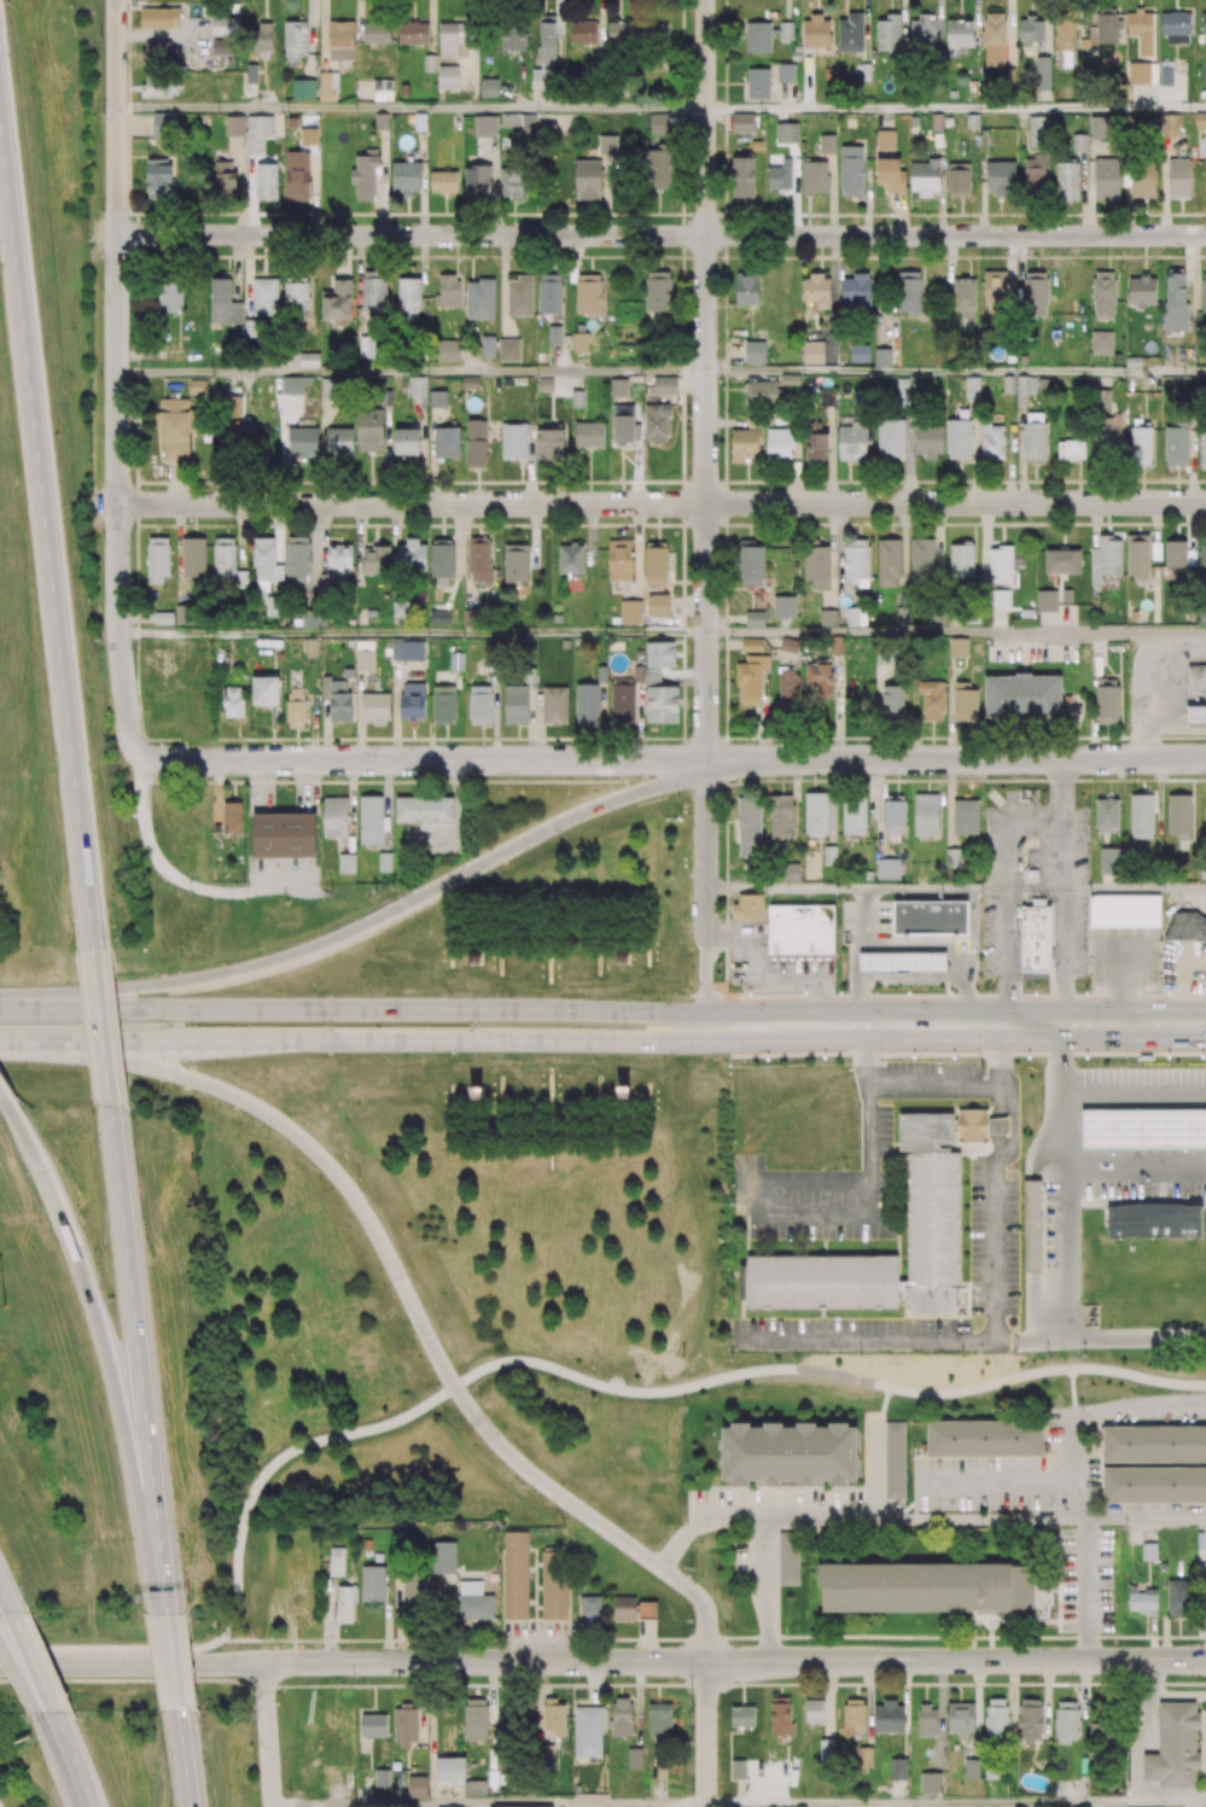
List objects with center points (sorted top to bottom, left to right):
building: (159, 17)
building: (851, 33)
building: (866, 71)
building: (251, 72)
building: (785, 72)
building: (828, 72)
building: (757, 82)
building: (304, 89)
road: (956, 109)
road: (412, 110)
road: (118, 116)
building: (948, 120)
building: (972, 120)
building: (1200, 120)
building: (936, 121)
building: (292, 122)
building: (742, 122)
building: (234, 126)
building: (786, 132)
building: (885, 138)
building: (827, 144)
building: (297, 175)
building: (1179, 176)
building: (266, 180)
road: (662, 234)
building: (519, 296)
building: (479, 298)
building: (554, 334)
building: (1101, 342)
building: (508, 349)
building: (753, 351)
building: (812, 351)
building: (858, 352)
building: (882, 356)
building: (537, 359)
road: (412, 373)
road: (956, 373)
building: (790, 379)
building: (470, 381)
building: (544, 384)
building: (664, 385)
building: (416, 386)
building: (617, 387)
building: (437, 398)
building: (576, 398)
building: (588, 435)
road: (706, 468)
road: (653, 503)
road: (101, 506)
building: (1155, 549)
building: (1137, 554)
building: (1066, 595)
building: (1047, 600)
building: (783, 606)
building: (162, 617)
building: (828, 617)
building: (755, 618)
road: (429, 633)
road: (956, 633)
building: (751, 645)
building: (957, 645)
building: (456, 660)
building: (1196, 680)
road: (192, 695)
building: (515, 704)
building: (1195, 717)
road: (164, 731)
road: (421, 759)
road: (956, 759)
road: (1158, 792)
road: (1062, 793)
building: (926, 815)
building: (966, 815)
building: (334, 817)
road: (1035, 828)
building: (284, 838)
road: (1006, 858)
building: (345, 863)
building: (887, 868)
building: (867, 874)
building: (1035, 874)
road: (197, 880)
road: (1109, 881)
road: (855, 887)
road: (1106, 890)
building: (750, 910)
building: (1125, 913)
building: (930, 917)
road: (1062, 926)
building: (1187, 929)
building: (802, 933)
road: (973, 933)
building: (1037, 940)
road: (942, 946)
road: (855, 956)
street lamp: (180, 957)
road: (1006, 957)
building: (903, 963)
road: (706, 975)
street lamp: (1089, 987)
street lamp: (1167, 990)
street lamp: (986, 991)
street lamp: (1143, 991)
street lamp: (874, 992)
street lamp: (740, 995)
road: (93, 1007)
traffic signals: (212, 1008)
road: (299, 1008)
road: (536, 1009)
road: (684, 1013)
road: (765, 1016)
street lamp: (190, 1024)
street lamp: (322, 1024)
road: (187, 1025)
street lamp: (478, 1025)
road: (977, 1025)
road: (1169, 1025)
street lamp: (624, 1026)
road: (764, 1038)
road: (269, 1042)
road: (503, 1042)
road: (94, 1043)
traffic signals: (153, 1043)
road: (682, 1044)
road: (997, 1056)
street lamp: (881, 1057)
street lamp: (980, 1057)
street lamp: (1128, 1059)
street lamp: (744, 1061)
traffic signals: (191, 1086)
street lamp: (165, 1094)
road: (1061, 1096)
road: (1134, 1096)
building: (973, 1126)
building: (1000, 1127)
building: (1144, 1131)
building: (928, 1132)
parking lot: (1143, 1132)
road: (869, 1173)
road: (200, 1177)
street lamp: (360, 1177)
road: (1064, 1183)
building: (1155, 1223)
building: (1033, 1226)
building: (936, 1234)
parking lot: (994, 1238)
road: (994, 1267)
building: (823, 1283)
street lamp: (5, 1306)
road: (1100, 1339)
road: (507, 1358)
road: (223, 1364)
street lamp: (479, 1397)
road: (1093, 1412)
road: (310, 1415)
road: (997, 1480)
road: (981, 1517)
road: (759, 1529)
street lamp: (182, 1540)
road: (1086, 1589)
road: (6, 1599)
road: (701, 1603)
road: (261, 1611)
street lamp: (728, 1632)
road: (956, 1660)
road: (354, 1662)
traffic signals: (269, 1663)
road: (33, 1667)
street lamp: (1192, 1678)
road: (27, 1683)
road: (602, 1685)
street lamp: (23, 1720)
street lamp: (202, 1723)
road: (303, 1723)
road: (707, 1733)
road: (69, 1764)
street lamp: (261, 1773)
road: (956, 1803)
road: (523, 1806)

